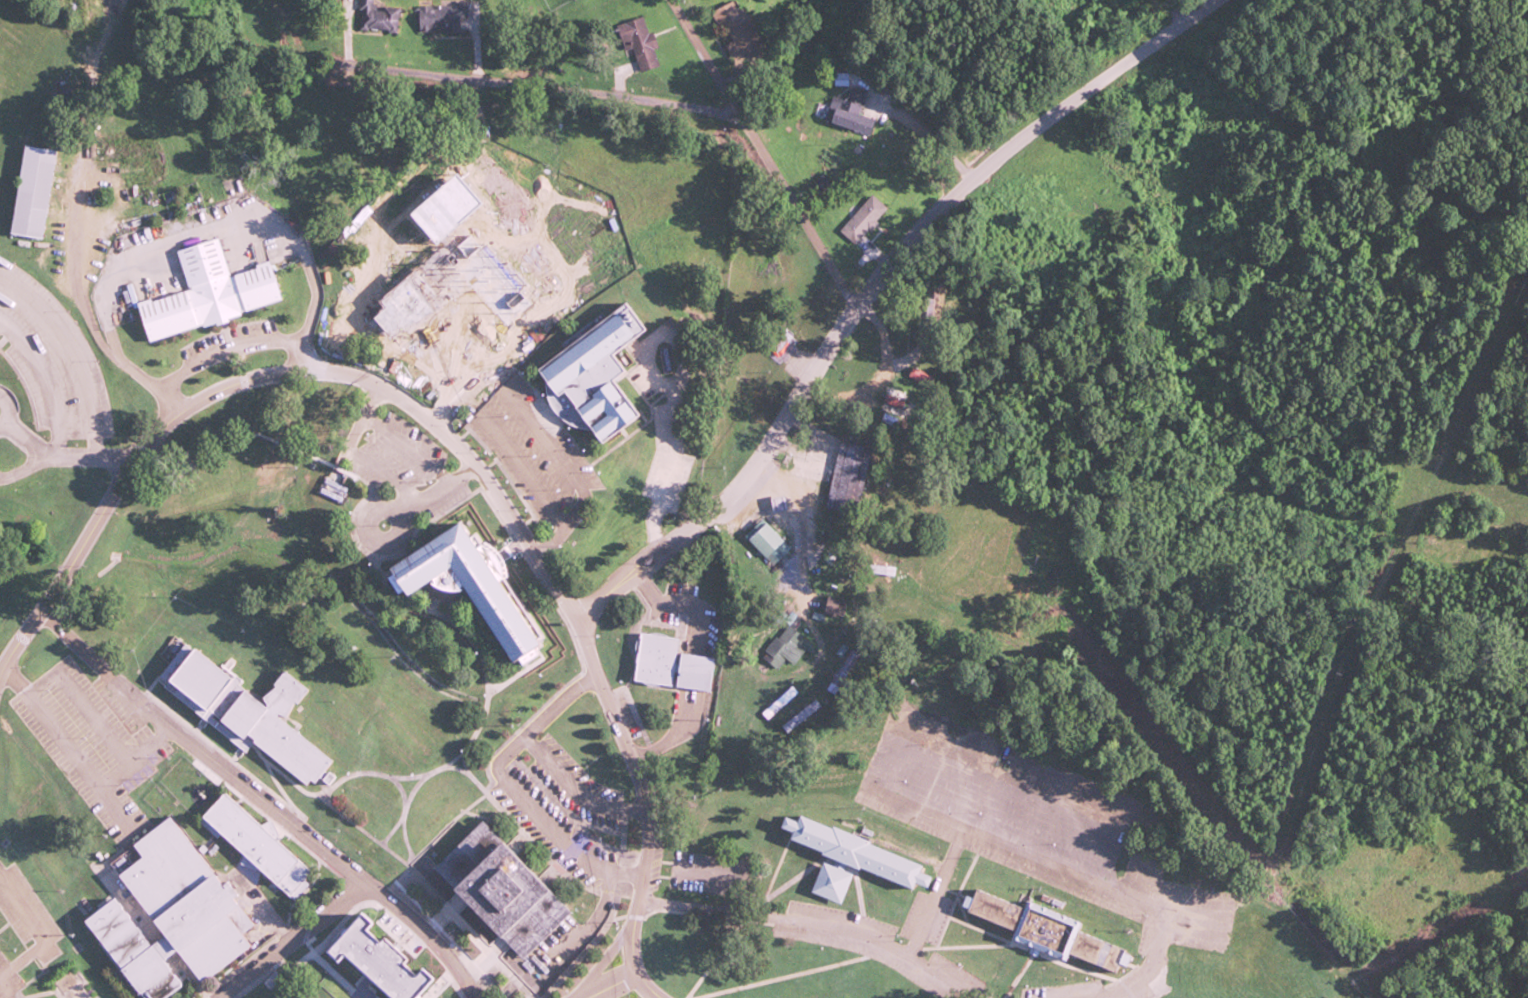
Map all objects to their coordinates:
building: (376, 17)
building: (441, 18)
building: (733, 25)
building: (638, 43)
road: (701, 57)
road: (518, 85)
building: (853, 115)
building: (32, 190)
road: (796, 207)
building: (862, 217)
road: (183, 234)
road: (863, 290)
building: (208, 292)
building: (778, 338)
parking lot: (227, 340)
road: (219, 342)
road: (70, 353)
parking lot: (49, 358)
building: (594, 372)
road: (269, 373)
road: (43, 381)
building: (917, 388)
road: (5, 408)
road: (538, 434)
road: (406, 442)
parking lot: (526, 446)
parking lot: (387, 453)
road: (58, 454)
road: (515, 459)
road: (22, 465)
road: (383, 471)
building: (849, 474)
road: (362, 532)
building: (765, 537)
building: (471, 582)
building: (836, 602)
building: (787, 645)
building: (658, 655)
building: (696, 669)
road: (42, 678)
building: (245, 707)
road: (893, 738)
parking lot: (91, 739)
road: (111, 776)
road: (263, 799)
parking lot: (1019, 806)
road: (643, 807)
building: (256, 840)
building: (854, 856)
building: (504, 888)
road: (935, 889)
road: (353, 906)
parking lot: (26, 912)
building: (171, 914)
road: (815, 925)
building: (1052, 928)
road: (44, 934)
road: (284, 939)
road: (250, 953)
building: (384, 960)
road: (1147, 964)
parking lot: (6, 977)
road: (280, 980)
road: (352, 985)
road: (435, 985)
road: (614, 985)
road: (3, 993)

